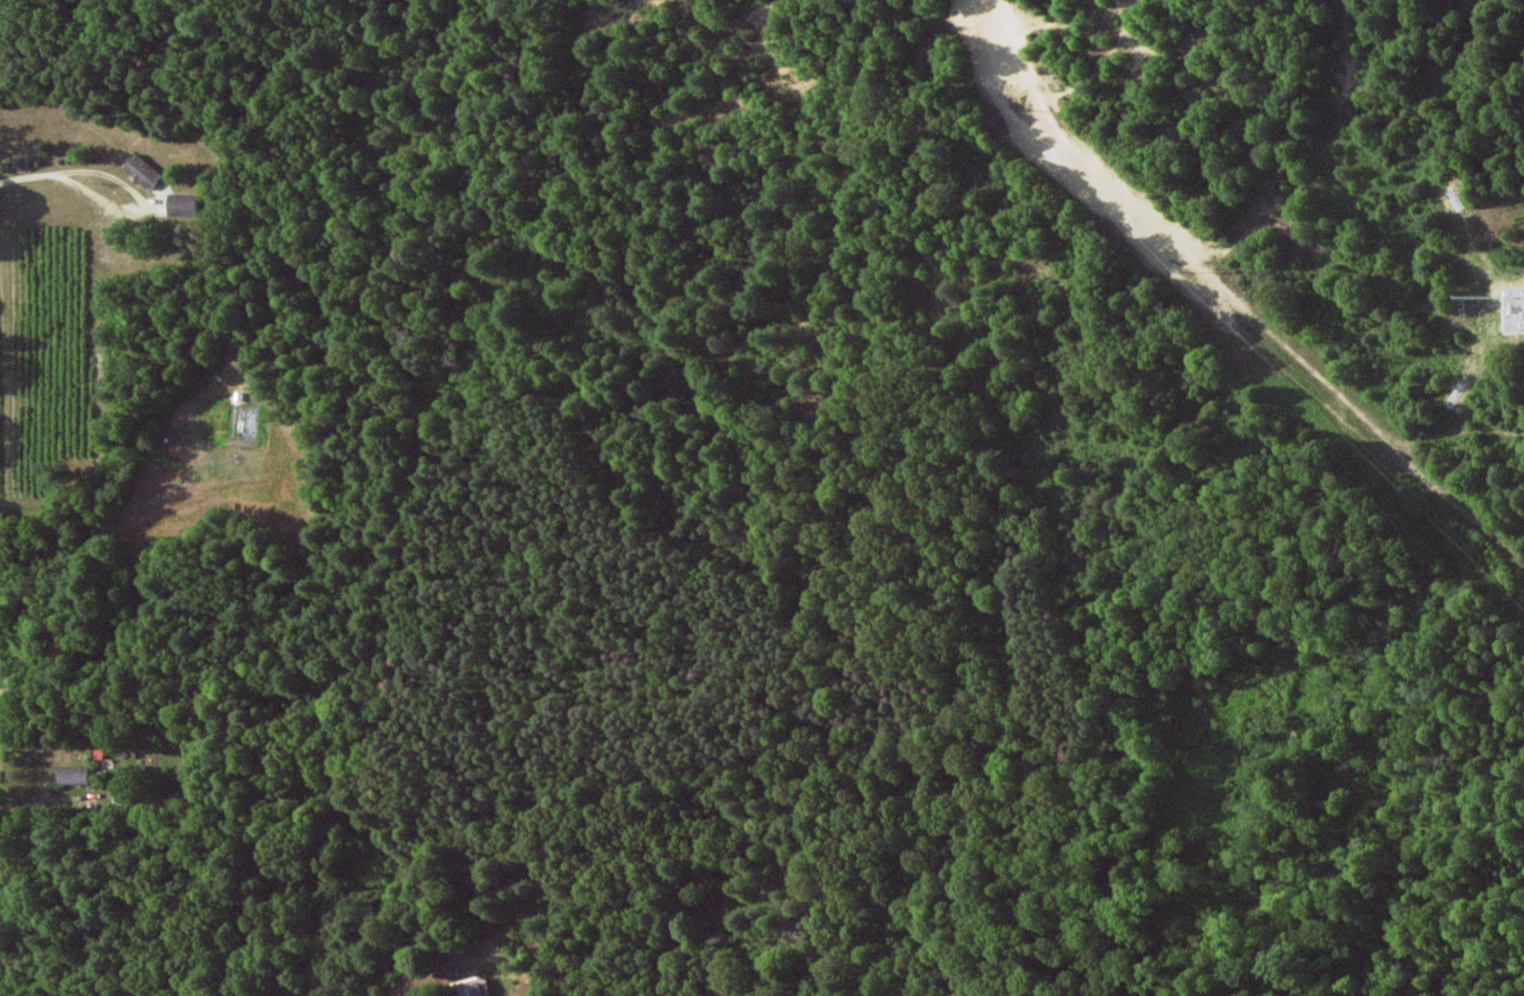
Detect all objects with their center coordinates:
building: (142, 171)
road: (30, 175)
road: (141, 202)
building: (183, 204)
building: (71, 775)
building: (469, 990)

